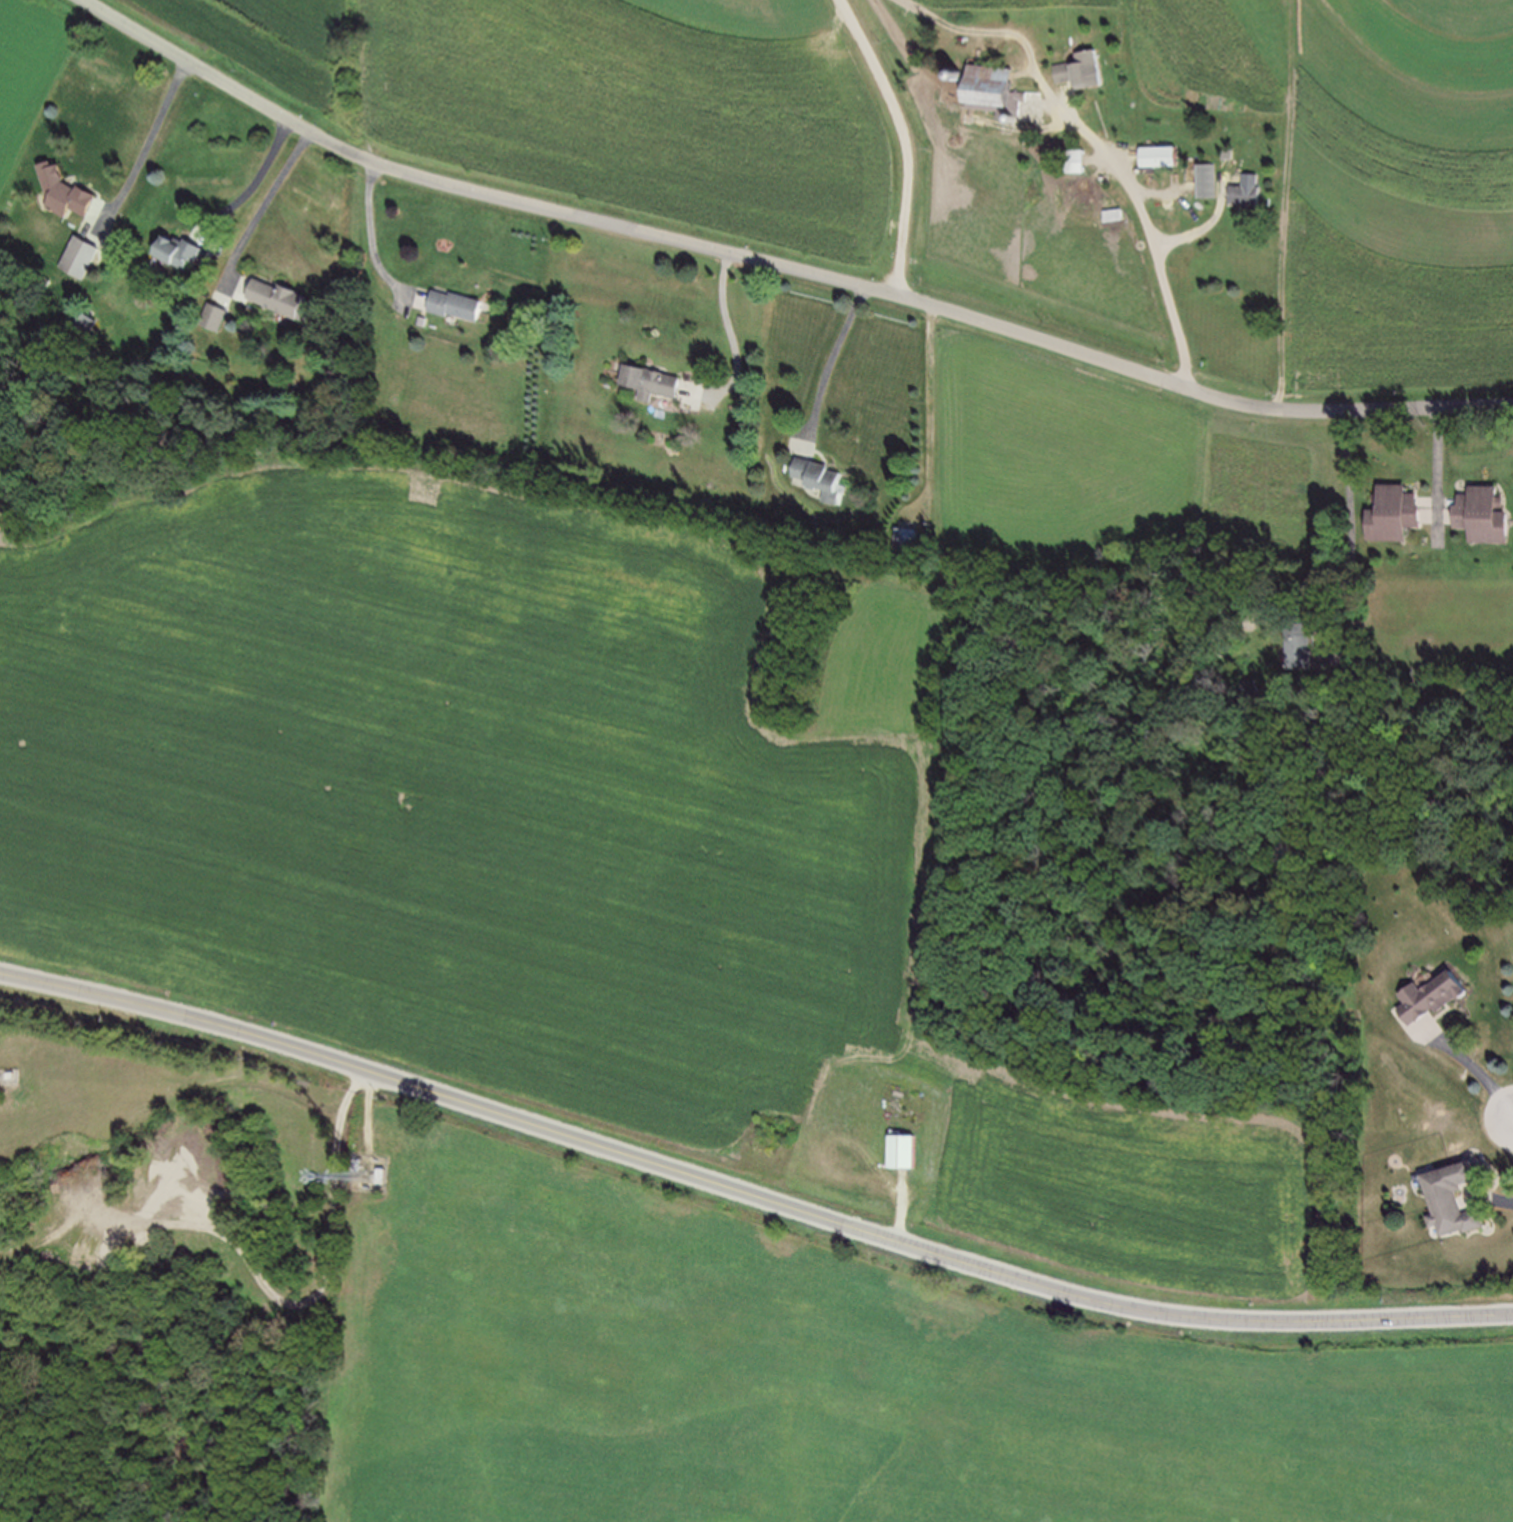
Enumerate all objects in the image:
building: (1078, 70)
building: (988, 89)
road: (904, 140)
road: (1096, 145)
road: (141, 151)
building: (1157, 157)
building: (1068, 161)
building: (1203, 181)
road: (250, 184)
building: (67, 190)
building: (1243, 191)
road: (259, 208)
road: (1204, 227)
road: (368, 243)
building: (181, 250)
building: (80, 256)
road: (779, 265)
building: (284, 297)
building: (454, 304)
building: (214, 317)
road: (735, 344)
road: (829, 367)
building: (645, 383)
road: (930, 415)
road: (1438, 476)
building: (819, 481)
building: (1389, 513)
building: (1479, 515)
building: (902, 538)
road: (1354, 546)
building: (1301, 644)
building: (1427, 996)
road: (1469, 1072)
building: (13, 1074)
road: (1512, 1119)
road: (370, 1120)
road: (1512, 1120)
building: (905, 1146)
building: (366, 1165)
road: (106, 1166)
road: (335, 1168)
building: (381, 1174)
road: (749, 1190)
building: (1445, 1200)
road: (903, 1207)
crop: (828, 1384)

